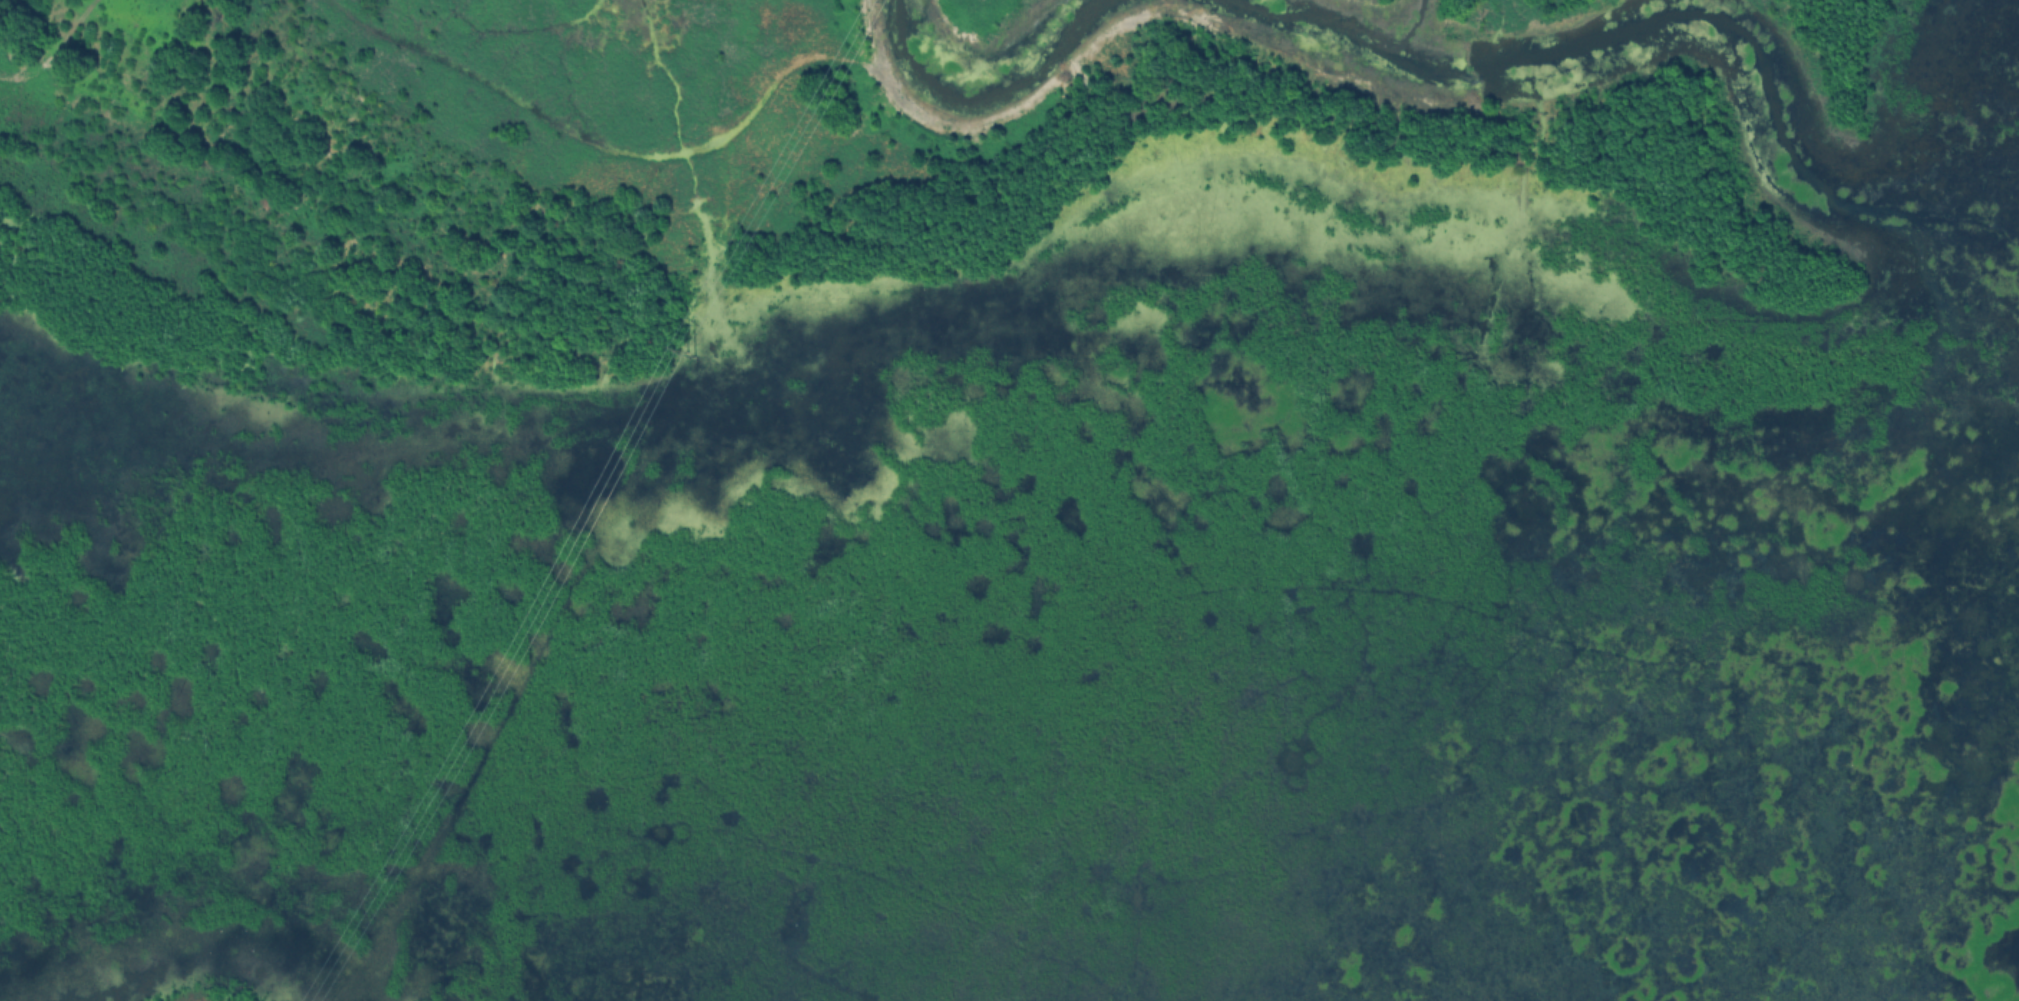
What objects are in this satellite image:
road: (53, 50)
road: (598, 143)

